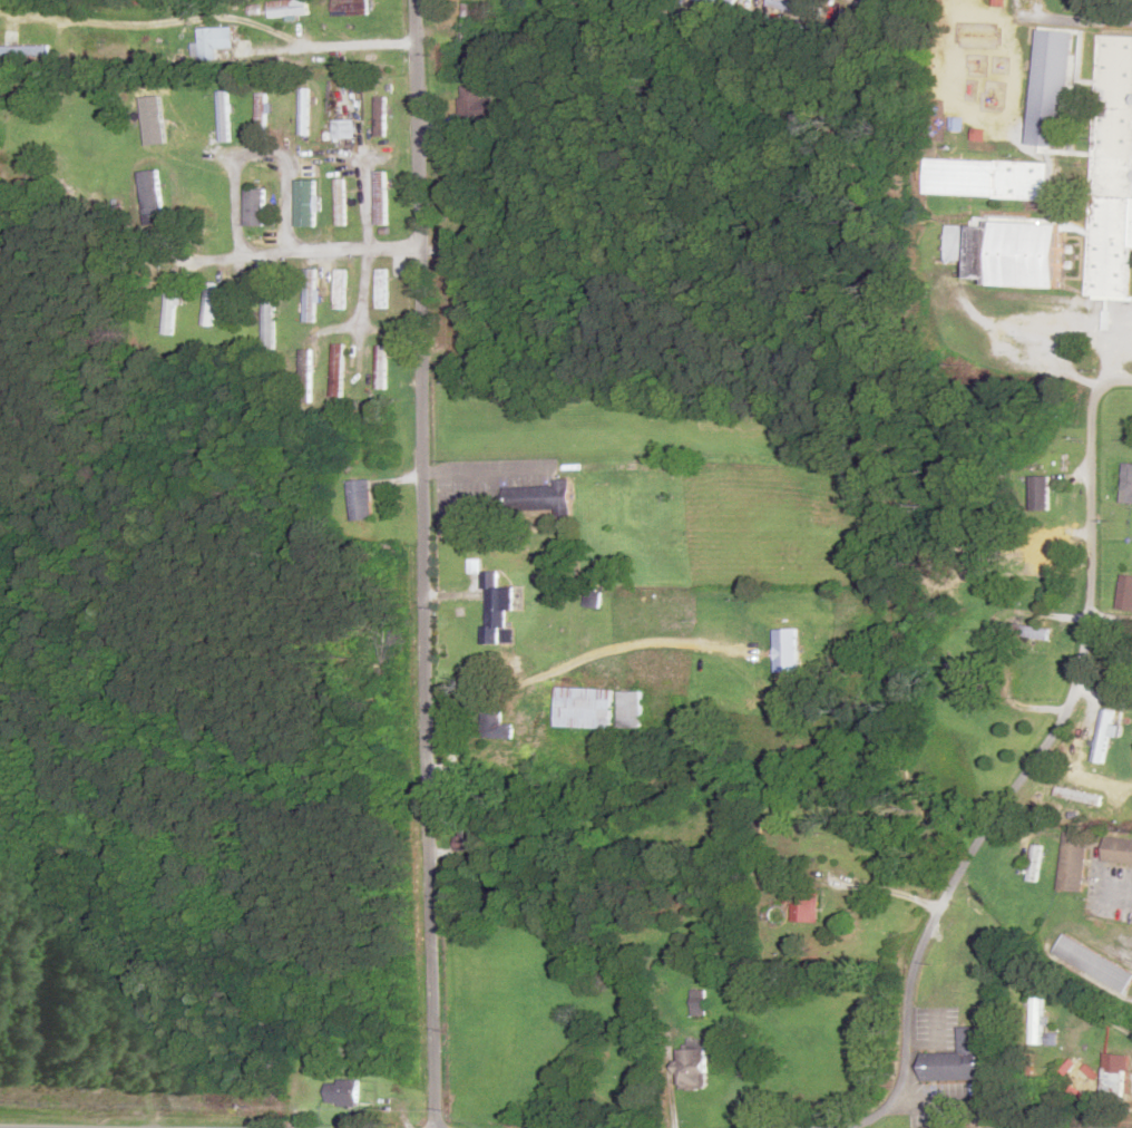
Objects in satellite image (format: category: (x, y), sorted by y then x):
building: (721, 2)
building: (351, 8)
building: (791, 8)
building: (287, 9)
road: (1097, 11)
road: (1114, 22)
building: (467, 23)
building: (213, 42)
building: (22, 48)
building: (471, 106)
building: (261, 111)
building: (304, 111)
building: (340, 114)
building: (223, 116)
building: (380, 116)
road: (342, 124)
building: (1094, 155)
building: (988, 178)
building: (150, 197)
building: (304, 197)
building: (380, 198)
building: (340, 202)
building: (254, 207)
building: (1005, 252)
building: (380, 289)
building: (339, 290)
building: (309, 295)
building: (208, 304)
building: (168, 312)
road: (386, 320)
building: (266, 322)
road: (633, 366)
building: (380, 368)
building: (335, 371)
building: (303, 375)
road: (338, 376)
road: (1110, 385)
road: (382, 441)
building: (1053, 464)
building: (1126, 484)
building: (557, 489)
building: (1041, 494)
building: (358, 500)
building: (1047, 562)
road: (423, 564)
building: (1125, 593)
building: (498, 606)
building: (1036, 633)
building: (963, 673)
building: (584, 709)
building: (496, 726)
building: (1103, 737)
building: (1079, 797)
road: (570, 808)
road: (1002, 810)
building: (463, 838)
building: (1116, 853)
building: (1072, 863)
building: (1033, 864)
building: (802, 906)
building: (779, 915)
building: (1094, 964)
building: (699, 1001)
building: (1035, 1022)
building: (970, 1052)
building: (692, 1064)
building: (1114, 1078)
building: (341, 1092)

